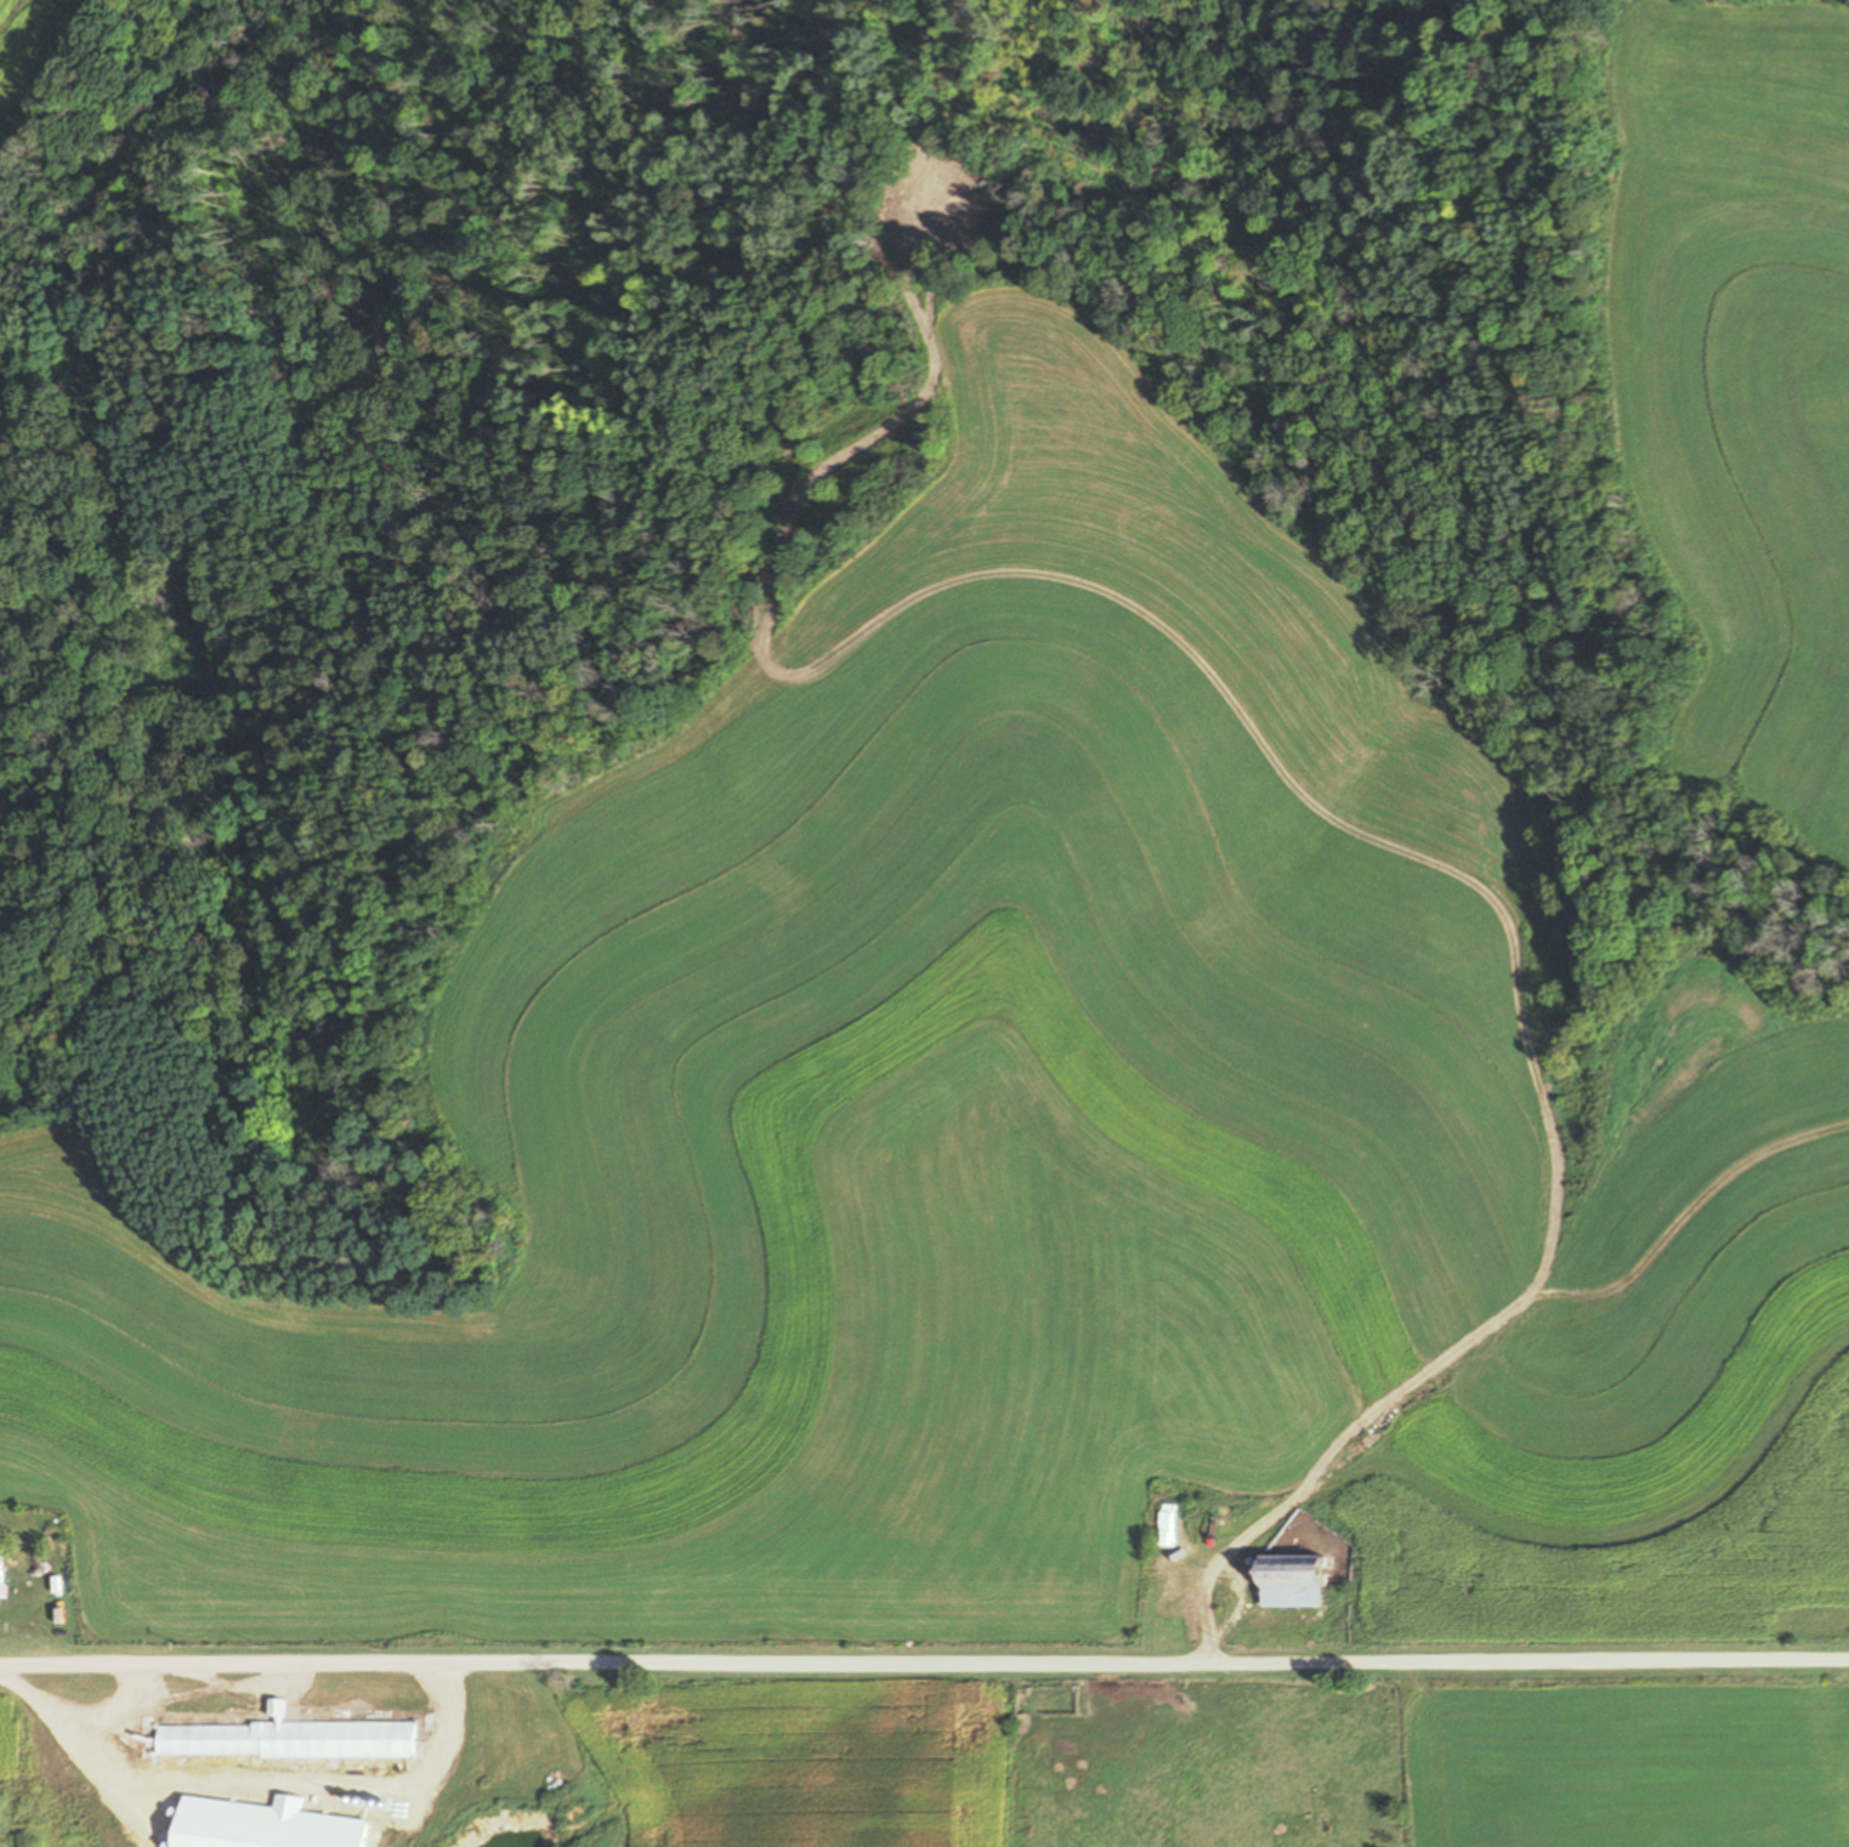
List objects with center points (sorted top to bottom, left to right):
road: (1509, 1322)
building: (1243, 1519)
building: (1179, 1565)
building: (1294, 1581)
road: (1204, 1629)
road: (924, 1660)
road: (240, 1688)
road: (180, 1694)
road: (439, 1698)
building: (276, 1709)
road: (85, 1714)
building: (297, 1741)

